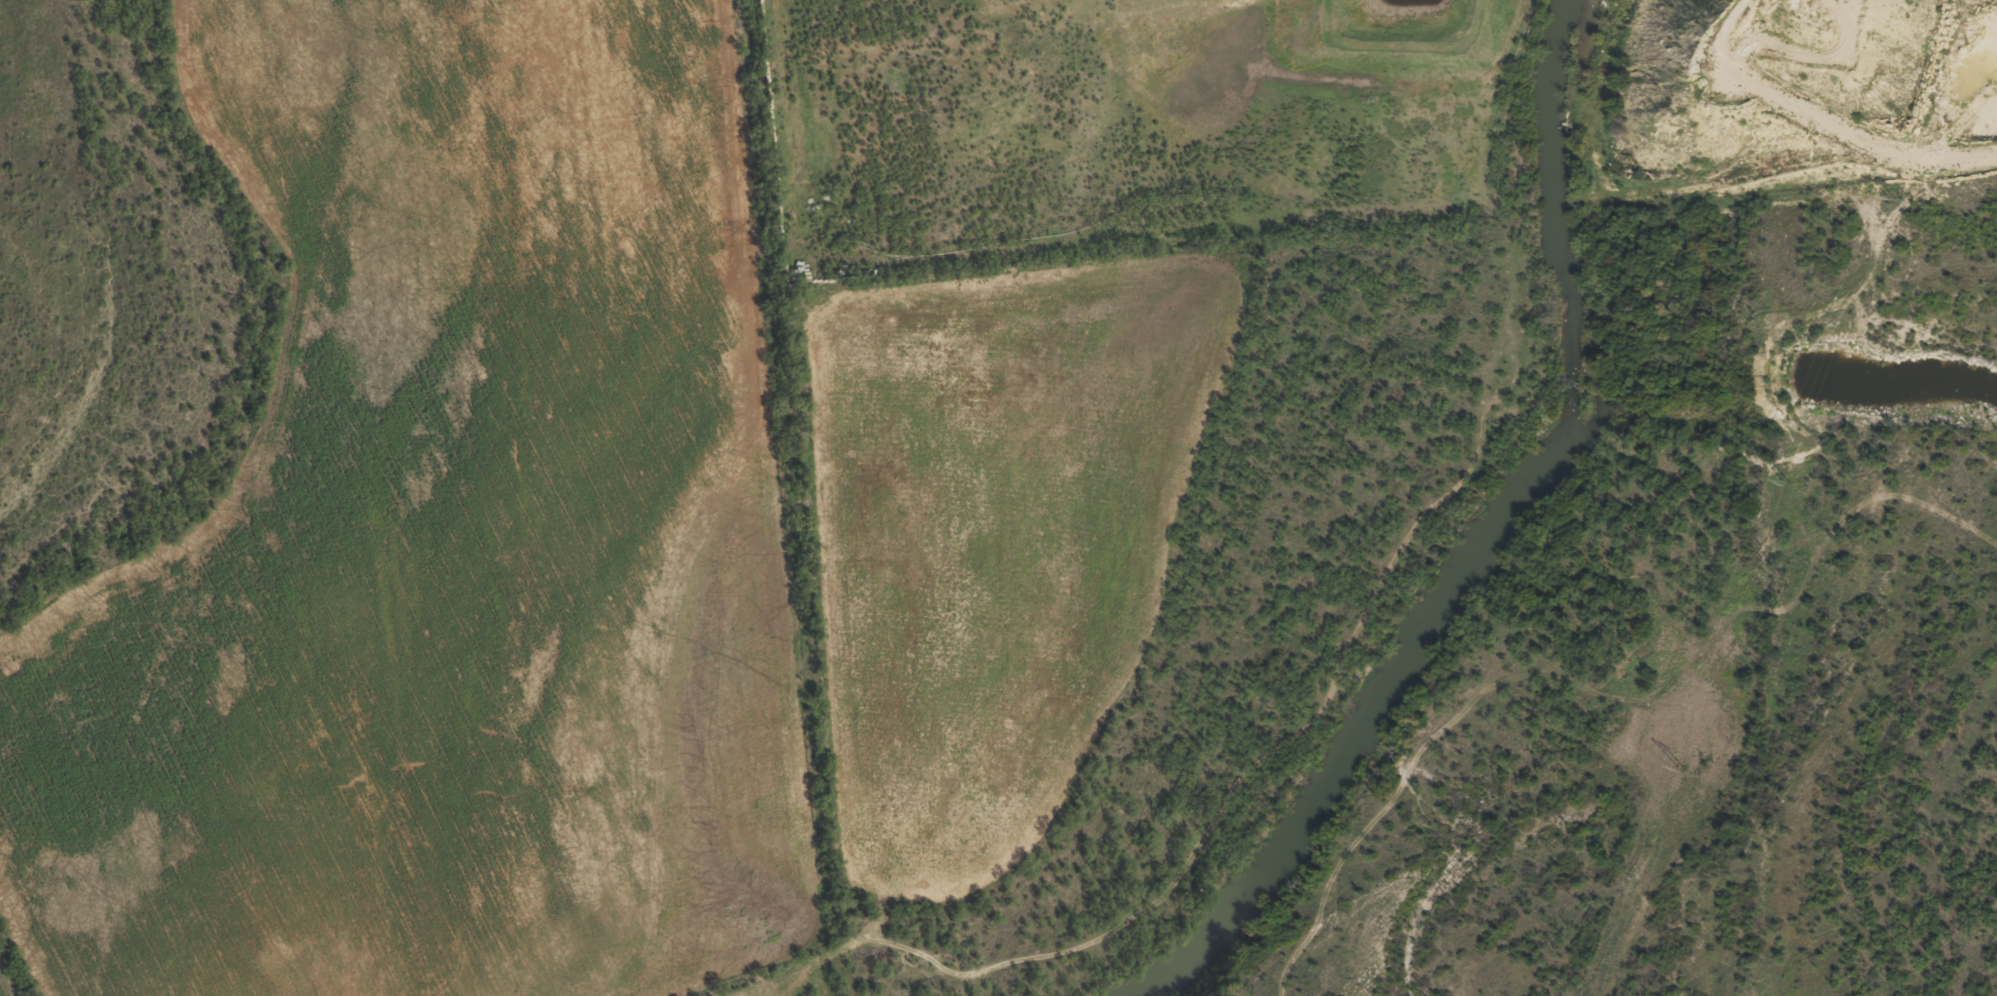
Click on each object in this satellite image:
power tower: (1891, 196)
power tower: (1786, 481)
power tower: (1681, 767)

